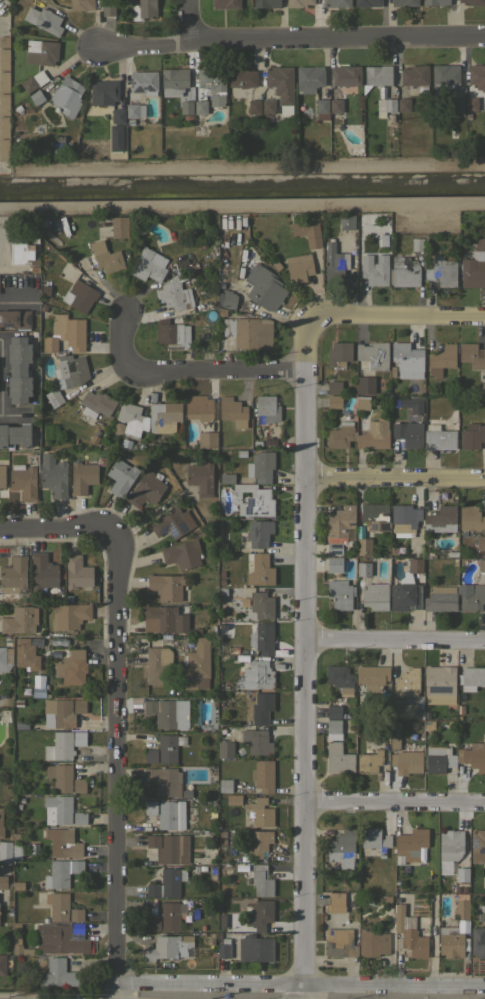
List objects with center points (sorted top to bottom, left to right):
building: (404, 2)
building: (435, 2)
building: (473, 2)
building: (225, 3)
building: (266, 3)
building: (298, 3)
building: (336, 3)
building: (367, 3)
building: (81, 4)
building: (108, 9)
building: (143, 9)
building: (43, 20)
road: (186, 21)
building: (4, 40)
road: (290, 40)
building: (40, 52)
building: (4, 59)
building: (476, 74)
building: (376, 76)
building: (415, 76)
building: (241, 77)
building: (346, 77)
building: (309, 78)
building: (444, 78)
building: (33, 80)
building: (4, 81)
building: (173, 81)
building: (143, 82)
building: (212, 84)
building: (281, 87)
building: (103, 92)
building: (67, 96)
building: (35, 97)
building: (456, 103)
building: (4, 104)
building: (403, 104)
building: (471, 104)
building: (254, 106)
building: (268, 106)
building: (384, 106)
building: (186, 107)
building: (200, 107)
building: (335, 108)
building: (106, 109)
building: (321, 109)
building: (135, 110)
building: (117, 115)
building: (391, 117)
building: (130, 121)
building: (4, 127)
building: (288, 133)
building: (388, 137)
building: (112, 139)
building: (59, 142)
building: (4, 149)
building: (44, 151)
building: (346, 221)
building: (119, 227)
building: (307, 231)
building: (378, 237)
building: (417, 244)
building: (20, 250)
building: (104, 257)
building: (299, 261)
building: (334, 262)
building: (148, 265)
building: (474, 266)
building: (374, 269)
building: (441, 271)
building: (404, 272)
building: (44, 289)
building: (266, 290)
building: (79, 295)
building: (174, 295)
road: (11, 300)
building: (229, 300)
building: (43, 307)
building: (219, 310)
road: (398, 316)
building: (14, 319)
building: (249, 332)
building: (74, 334)
building: (173, 335)
building: (49, 343)
building: (338, 354)
building: (373, 355)
building: (472, 355)
building: (441, 359)
building: (407, 360)
building: (18, 369)
building: (70, 371)
building: (392, 371)
road: (4, 373)
road: (185, 375)
building: (365, 384)
building: (334, 387)
building: (481, 389)
building: (54, 397)
building: (334, 401)
building: (361, 402)
building: (394, 402)
building: (96, 404)
building: (411, 404)
building: (267, 408)
building: (233, 411)
road: (2, 414)
building: (149, 417)
building: (202, 419)
building: (118, 427)
building: (408, 433)
building: (15, 435)
building: (341, 435)
building: (373, 435)
building: (472, 436)
building: (438, 437)
building: (125, 443)
building: (257, 443)
building: (241, 453)
building: (261, 466)
building: (53, 475)
building: (2, 476)
building: (120, 476)
road: (395, 476)
building: (82, 477)
building: (200, 478)
building: (227, 478)
building: (23, 480)
building: (146, 488)
building: (254, 500)
building: (441, 515)
building: (375, 516)
building: (404, 517)
building: (471, 518)
building: (340, 521)
building: (172, 523)
road: (55, 529)
building: (259, 533)
building: (480, 542)
building: (364, 546)
building: (334, 548)
building: (182, 554)
building: (452, 554)
building: (484, 554)
building: (219, 560)
building: (429, 562)
building: (334, 564)
building: (414, 565)
building: (481, 565)
building: (363, 569)
building: (260, 570)
building: (43, 571)
building: (77, 572)
building: (13, 574)
building: (166, 586)
building: (222, 591)
building: (340, 593)
building: (375, 596)
building: (404, 596)
building: (472, 598)
building: (68, 599)
building: (440, 599)
building: (245, 602)
building: (262, 605)
building: (69, 616)
building: (165, 619)
building: (19, 620)
building: (165, 636)
building: (262, 638)
road: (395, 641)
building: (25, 654)
road: (304, 657)
building: (5, 658)
building: (158, 665)
building: (197, 665)
building: (71, 667)
building: (260, 673)
building: (372, 676)
building: (471, 678)
building: (340, 679)
building: (407, 682)
building: (439, 684)
building: (46, 686)
building: (245, 686)
building: (40, 692)
road: (4, 698)
building: (18, 701)
building: (79, 706)
building: (262, 707)
building: (403, 709)
building: (460, 709)
building: (334, 711)
building: (167, 712)
building: (58, 713)
building: (426, 715)
building: (21, 724)
building: (395, 726)
building: (227, 727)
building: (212, 728)
building: (79, 738)
building: (257, 741)
building: (394, 743)
building: (60, 746)
building: (169, 747)
building: (225, 749)
building: (336, 749)
building: (150, 755)
building: (473, 756)
building: (439, 759)
building: (370, 760)
building: (407, 760)
road: (112, 764)
building: (263, 775)
building: (60, 776)
building: (164, 780)
building: (79, 785)
building: (225, 785)
building: (19, 798)
building: (233, 799)
road: (394, 804)
building: (19, 805)
building: (150, 807)
building: (59, 808)
building: (260, 812)
building: (169, 815)
building: (79, 818)
building: (1, 822)
building: (222, 833)
building: (15, 836)
building: (375, 840)
building: (222, 841)
building: (61, 842)
building: (258, 843)
building: (450, 844)
building: (410, 845)
building: (478, 846)
building: (169, 847)
building: (341, 848)
building: (16, 849)
building: (231, 850)
building: (5, 851)
building: (13, 853)
building: (243, 858)
building: (76, 866)
building: (202, 867)
building: (212, 868)
building: (226, 870)
building: (462, 874)
building: (57, 875)
building: (484, 878)
building: (261, 880)
building: (4, 882)
building: (167, 883)
building: (18, 885)
building: (455, 888)
building: (463, 888)
building: (335, 902)
building: (57, 905)
building: (9, 912)
building: (75, 914)
building: (484, 914)
building: (171, 915)
building: (260, 915)
building: (45, 919)
building: (221, 919)
building: (153, 923)
building: (341, 924)
building: (454, 930)
building: (408, 934)
building: (59, 939)
building: (478, 941)
building: (340, 943)
building: (373, 943)
building: (166, 946)
building: (19, 947)
building: (224, 948)
building: (255, 948)
building: (41, 963)
building: (2, 964)
building: (58, 974)
road: (299, 987)

